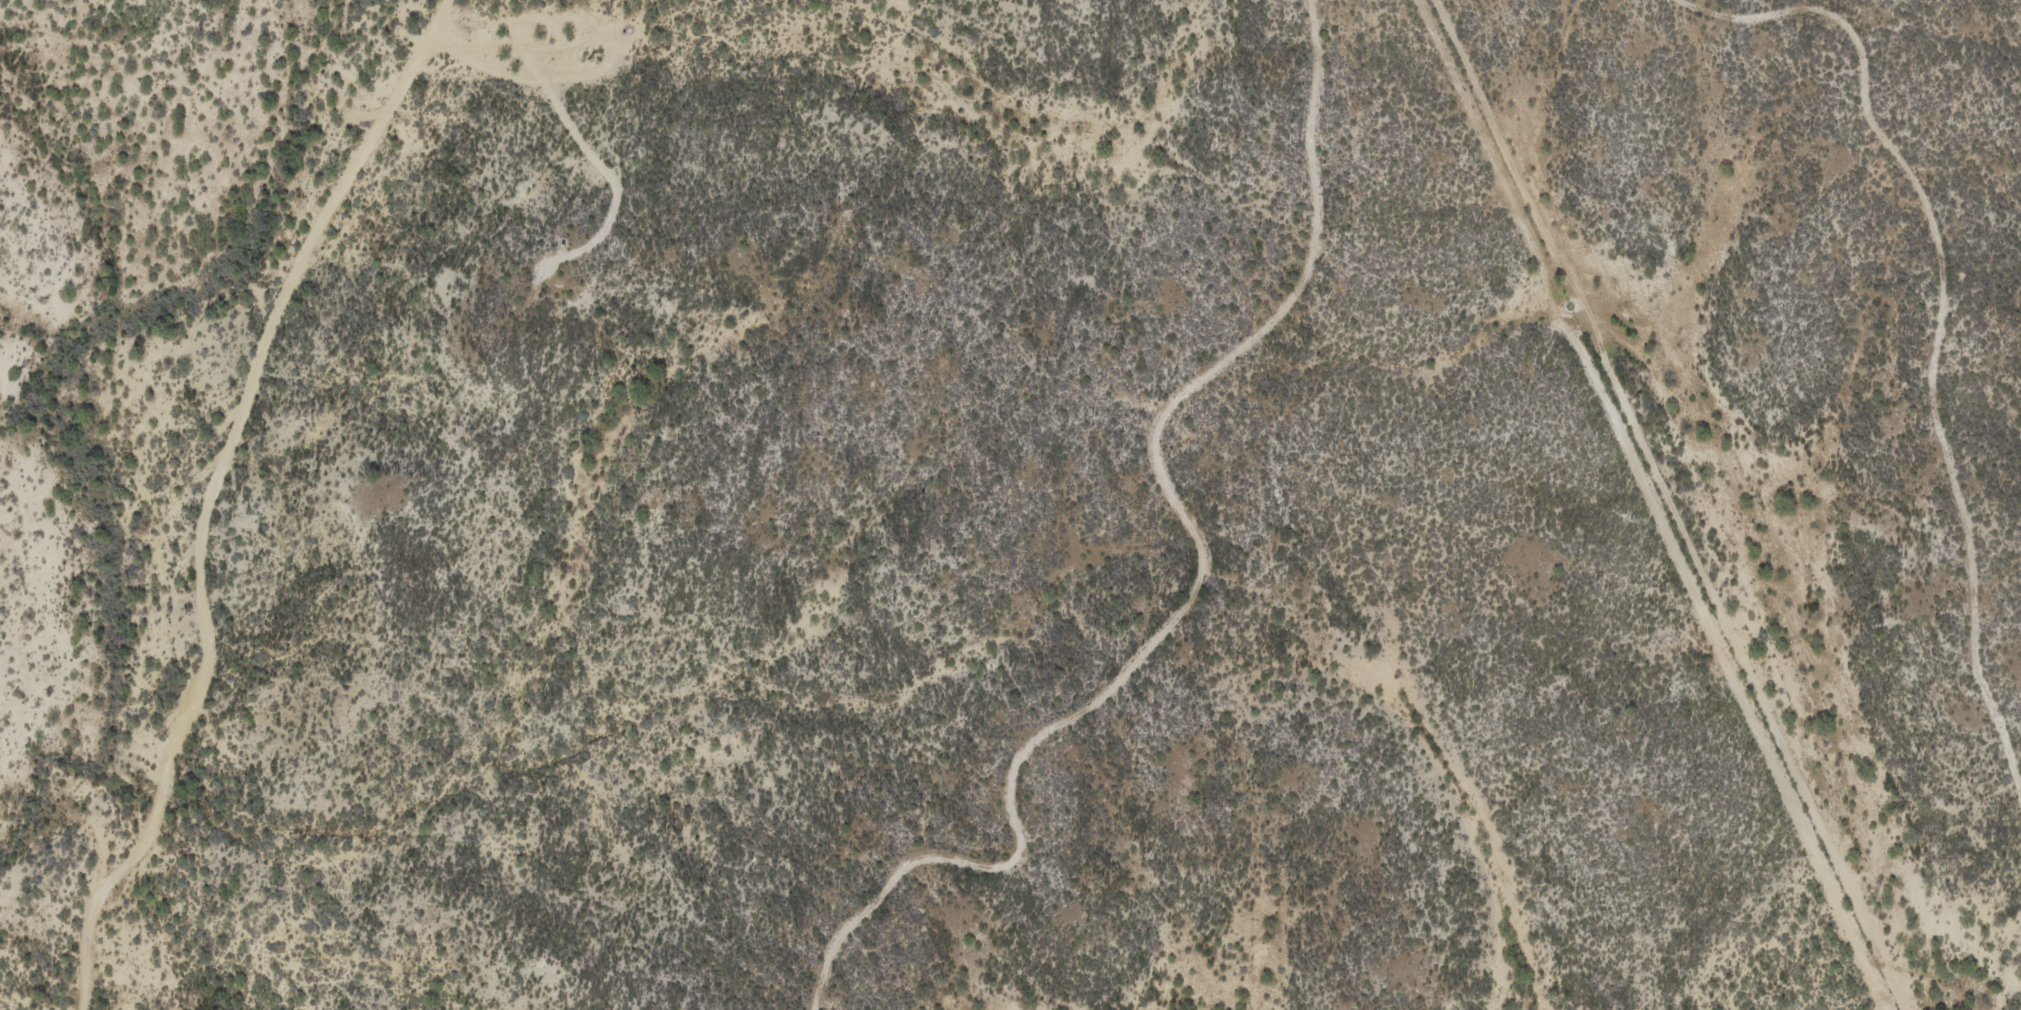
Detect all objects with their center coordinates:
road: (218, 495)
road: (1663, 505)
road: (1300, 530)

